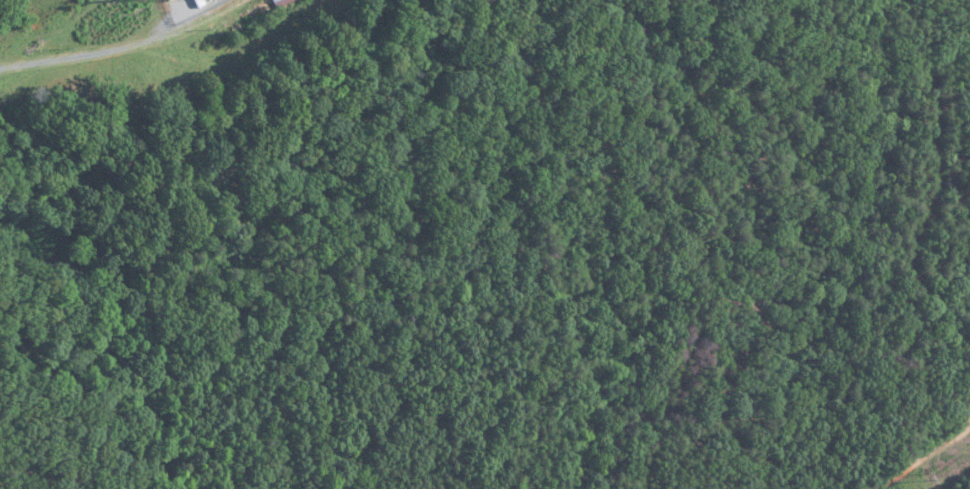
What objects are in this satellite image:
building: (279, 4)
road: (79, 54)

